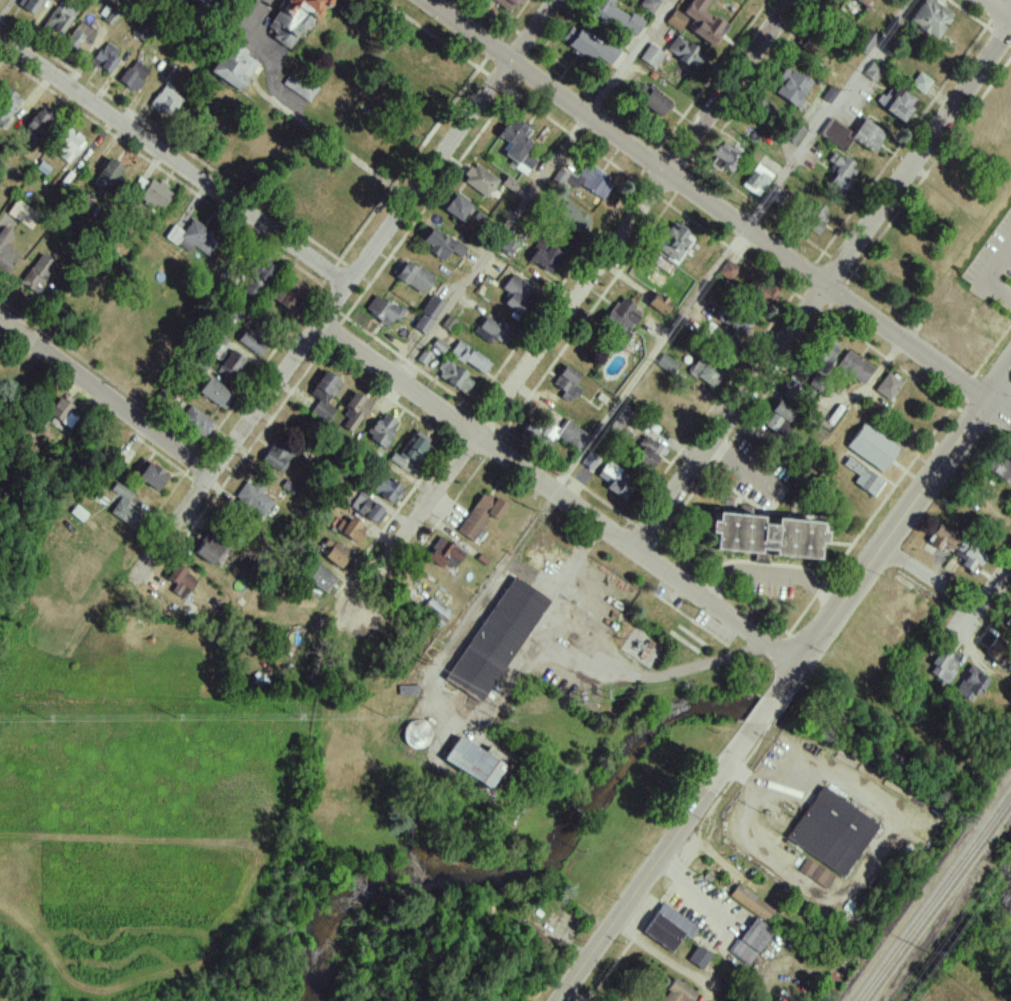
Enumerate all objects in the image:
building: (659, 0)
building: (865, 2)
building: (505, 4)
building: (29, 5)
building: (648, 5)
road: (996, 10)
road: (1000, 15)
building: (930, 18)
building: (58, 19)
building: (293, 19)
building: (675, 20)
road: (979, 22)
building: (80, 37)
road: (250, 41)
building: (864, 42)
building: (580, 43)
building: (684, 52)
building: (606, 53)
road: (625, 56)
building: (651, 56)
building: (105, 58)
building: (231, 66)
building: (872, 72)
building: (134, 75)
building: (921, 83)
building: (299, 85)
building: (791, 87)
building: (829, 95)
building: (166, 101)
building: (655, 103)
building: (896, 103)
building: (6, 106)
road: (826, 113)
building: (36, 125)
building: (853, 135)
building: (67, 145)
building: (516, 146)
building: (726, 157)
road: (175, 162)
building: (839, 175)
building: (106, 177)
building: (558, 178)
building: (479, 180)
building: (757, 180)
building: (592, 181)
road: (926, 182)
building: (138, 187)
building: (155, 194)
road: (708, 201)
building: (456, 208)
building: (19, 212)
building: (572, 218)
building: (815, 219)
building: (192, 238)
building: (672, 243)
building: (439, 245)
road: (490, 246)
building: (5, 251)
building: (548, 260)
road: (361, 267)
parking lot: (996, 267)
building: (728, 270)
building: (37, 274)
building: (413, 277)
building: (257, 279)
road: (989, 280)
road: (822, 288)
building: (517, 294)
building: (289, 295)
building: (765, 296)
building: (659, 304)
building: (382, 311)
road: (565, 314)
building: (427, 315)
building: (621, 318)
building: (448, 323)
building: (491, 331)
road: (937, 333)
building: (250, 342)
building: (825, 353)
building: (470, 358)
road: (648, 358)
road: (991, 361)
building: (231, 364)
building: (667, 364)
building: (855, 367)
building: (704, 374)
building: (454, 377)
building: (567, 384)
building: (887, 386)
building: (797, 391)
building: (214, 393)
building: (323, 397)
road: (104, 398)
road: (1001, 409)
building: (57, 411)
building: (354, 412)
building: (777, 418)
building: (619, 421)
building: (196, 422)
building: (382, 430)
building: (555, 433)
building: (871, 448)
building: (411, 450)
building: (648, 452)
building: (274, 459)
building: (590, 461)
building: (997, 467)
building: (150, 477)
building: (614, 478)
building: (863, 479)
building: (386, 490)
road: (559, 495)
building: (253, 499)
building: (122, 505)
building: (367, 510)
building: (78, 513)
building: (480, 516)
building: (349, 530)
road: (893, 537)
building: (762, 538)
building: (943, 538)
building: (208, 552)
building: (334, 553)
building: (444, 554)
building: (971, 558)
road: (770, 573)
road: (931, 578)
building: (320, 579)
building: (180, 582)
road: (993, 587)
building: (436, 609)
building: (497, 640)
building: (991, 641)
building: (942, 665)
building: (969, 685)
road: (766, 711)
building: (416, 735)
building: (474, 763)
park: (625, 790)
railway: (1001, 801)
railway: (1005, 814)
railway: (986, 823)
railway: (994, 830)
building: (831, 832)
road: (659, 862)
building: (816, 873)
building: (752, 903)
railway: (918, 916)
railway: (929, 919)
building: (667, 927)
building: (751, 941)
road: (662, 957)
building: (698, 957)
building: (677, 992)

